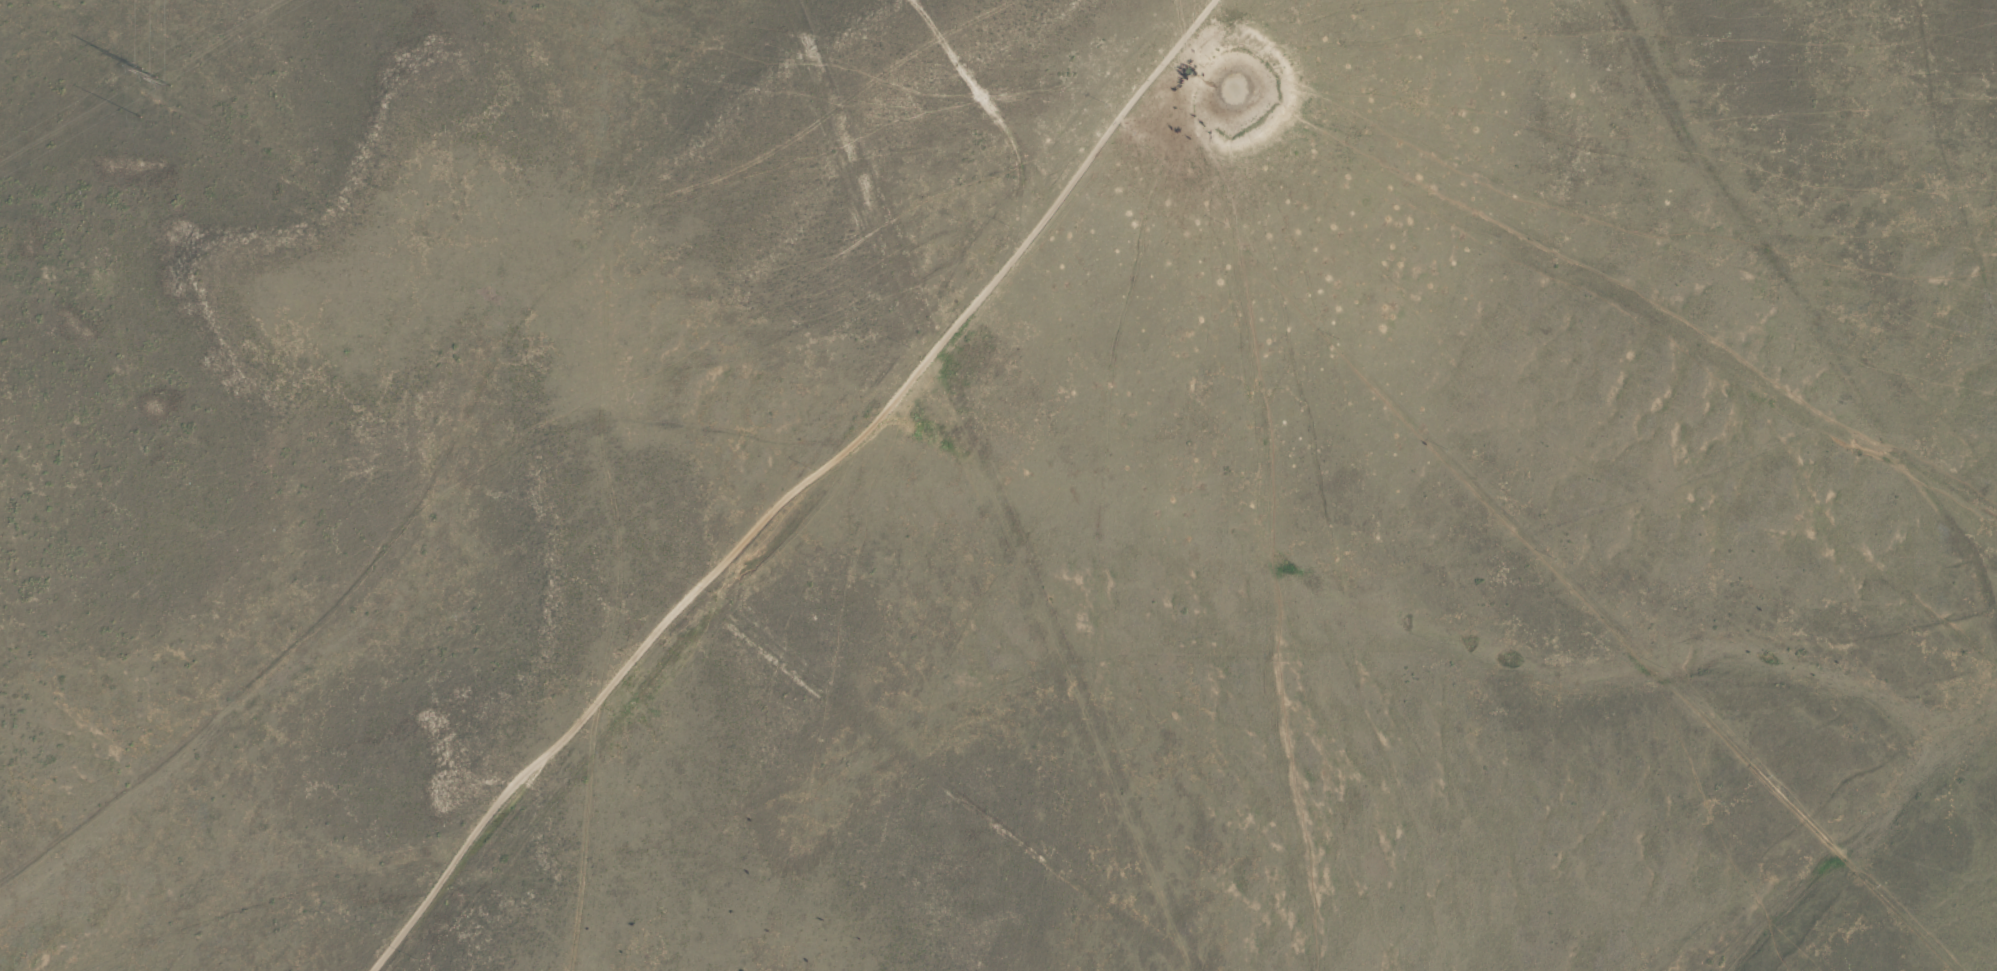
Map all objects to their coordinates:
power tower: (154, 71)
road: (977, 85)
road: (963, 303)
road: (1829, 307)
road: (742, 629)

